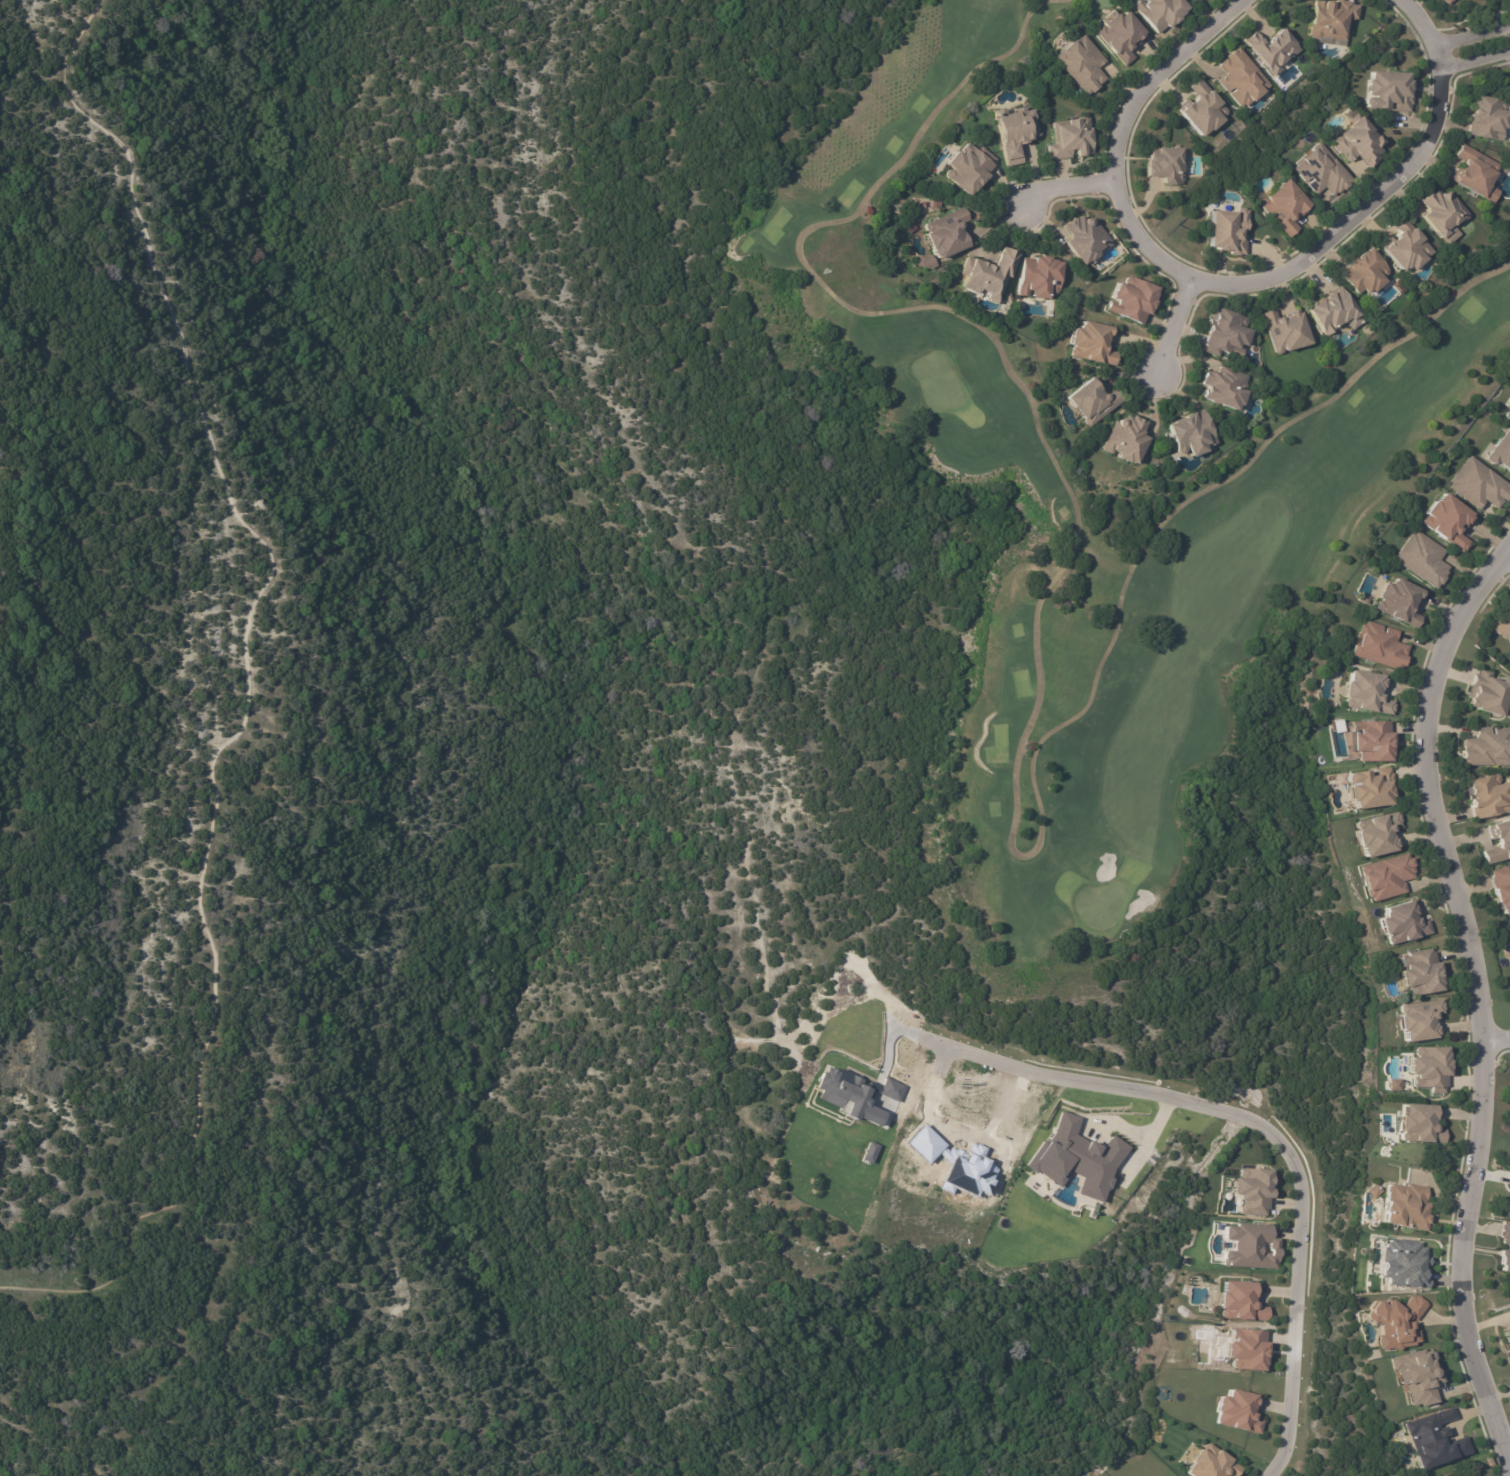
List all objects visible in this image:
building: (1447, 1)
building: (1160, 12)
building: (1328, 20)
building: (1121, 36)
road: (1475, 36)
building: (1271, 50)
road: (1476, 60)
building: (1076, 63)
building: (1238, 78)
building: (1386, 92)
building: (1199, 111)
building: (1483, 115)
building: (1010, 132)
building: (1067, 138)
building: (1356, 142)
building: (1163, 165)
building: (965, 168)
building: (1319, 171)
building: (1471, 174)
road: (1068, 187)
building: (1283, 207)
building: (1439, 216)
building: (904, 228)
building: (1224, 233)
building: (941, 237)
building: (1081, 239)
building: (1402, 247)
building: (1363, 271)
building: (984, 273)
building: (1037, 279)
road: (1232, 286)
building: (1005, 299)
building: (1130, 299)
building: (1333, 311)
building: (1283, 329)
road: (1167, 332)
building: (1224, 334)
building: (1095, 345)
building: (1222, 390)
building: (1088, 402)
building: (1508, 403)
building: (1508, 417)
building: (1187, 435)
building: (1124, 439)
building: (1500, 449)
building: (1478, 486)
building: (1445, 520)
park: (1079, 540)
road: (1505, 555)
building: (1419, 558)
building: (1398, 602)
building: (1504, 625)
building: (1379, 647)
building: (1365, 693)
building: (1487, 693)
building: (1369, 740)
building: (1486, 747)
building: (1368, 787)
building: (1485, 796)
building: (1373, 834)
building: (1498, 844)
building: (1381, 877)
building: (1500, 890)
building: (1398, 923)
building: (1415, 970)
building: (1508, 970)
building: (1509, 980)
road: (1484, 987)
building: (1414, 1021)
road: (1497, 1037)
building: (1426, 1070)
building: (846, 1095)
building: (1413, 1125)
road: (1270, 1130)
building: (869, 1152)
building: (1076, 1158)
building: (1508, 1179)
building: (1251, 1192)
building: (1371, 1192)
building: (1401, 1208)
building: (1509, 1212)
building: (1251, 1246)
building: (1505, 1251)
building: (1403, 1263)
building: (1239, 1301)
building: (1396, 1322)
building: (1504, 1335)
building: (1246, 1349)
building: (1507, 1354)
building: (1416, 1376)
building: (1237, 1411)
building: (1433, 1439)
building: (1211, 1463)
building: (1488, 1463)

